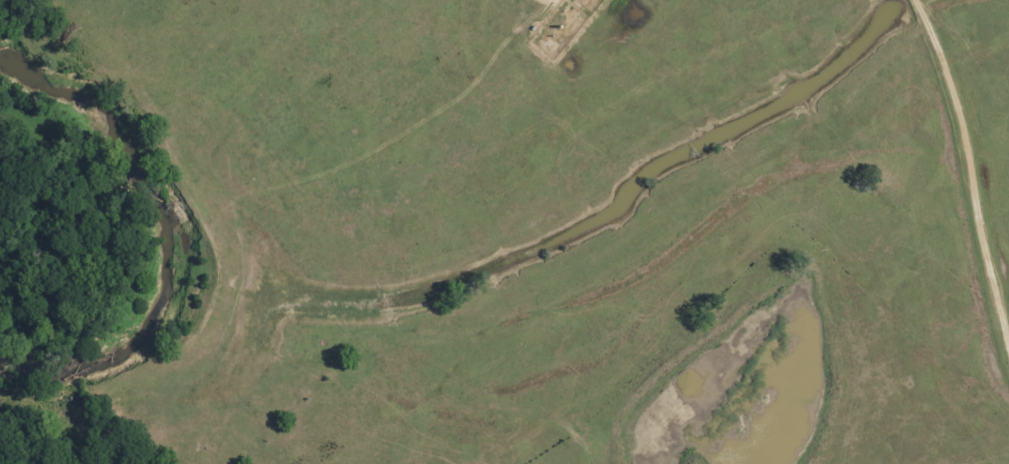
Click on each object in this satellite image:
road: (967, 174)

